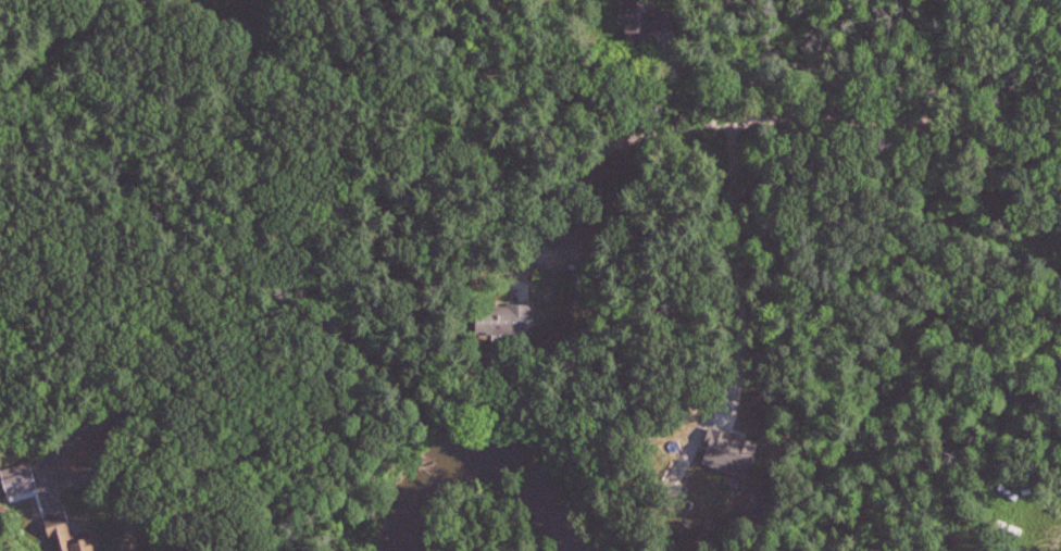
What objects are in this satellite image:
building: (160, 0)
building: (166, 1)
building: (646, 20)
road: (761, 78)
road: (746, 121)
road: (740, 271)
building: (504, 316)
river: (484, 448)
building: (703, 503)
building: (73, 533)

